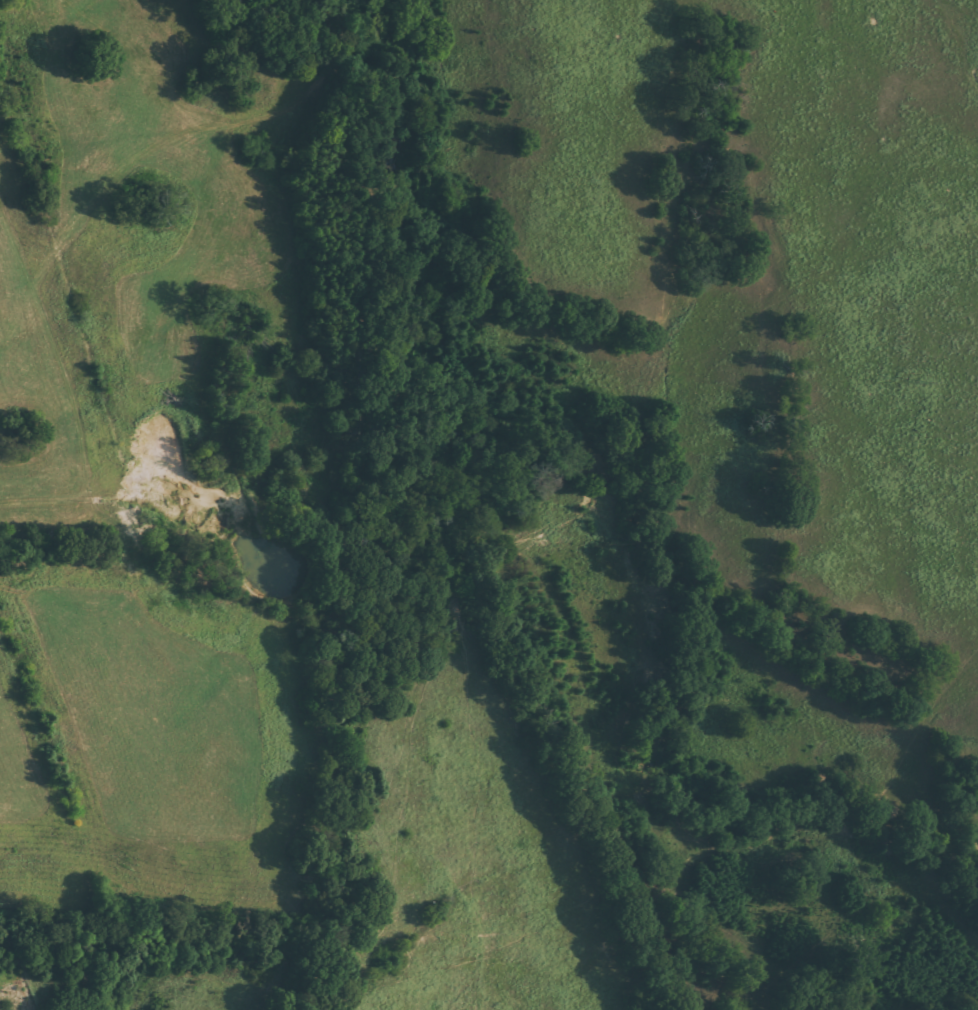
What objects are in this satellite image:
power tower: (922, 382)

